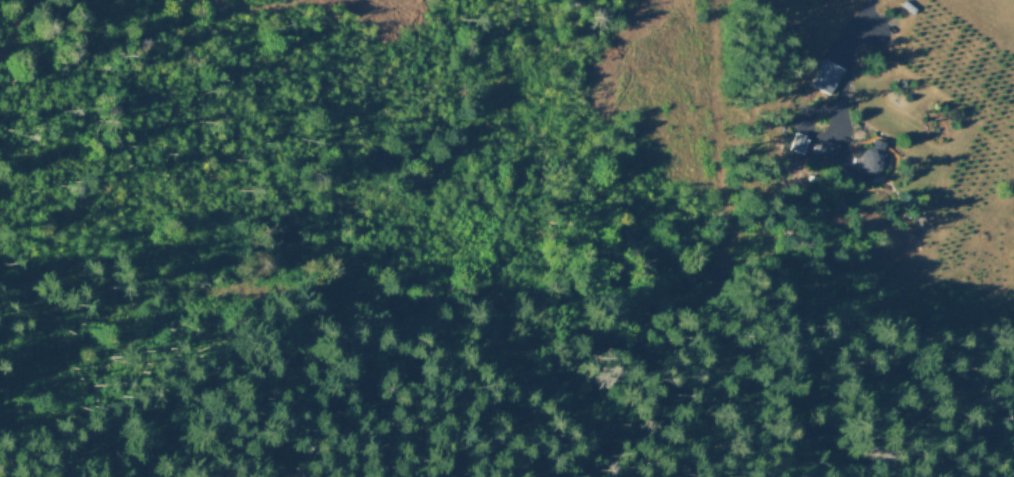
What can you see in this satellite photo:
building: (825, 74)
building: (798, 141)
building: (871, 161)

